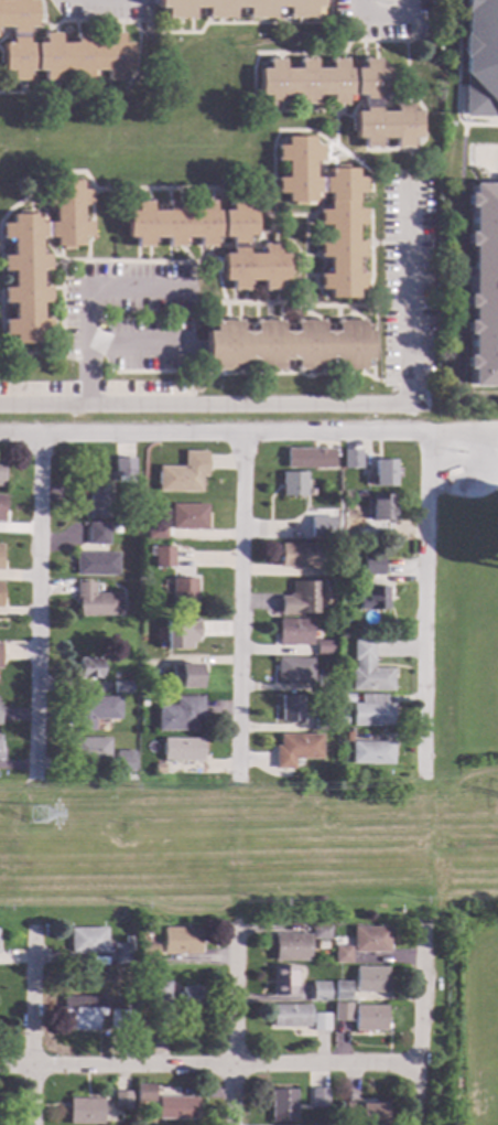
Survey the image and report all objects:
building: (240, 8)
road: (383, 17)
road: (249, 22)
road: (77, 26)
road: (89, 26)
road: (57, 28)
road: (35, 29)
road: (350, 29)
road: (4, 35)
road: (348, 41)
building: (57, 50)
building: (480, 58)
road: (456, 63)
road: (137, 69)
road: (393, 93)
building: (344, 96)
road: (409, 96)
road: (393, 98)
road: (355, 106)
road: (480, 124)
road: (305, 129)
road: (333, 146)
road: (339, 157)
road: (487, 157)
road: (335, 163)
road: (496, 170)
road: (402, 180)
road: (185, 187)
road: (30, 204)
road: (40, 207)
building: (327, 213)
road: (305, 219)
road: (91, 224)
road: (261, 236)
building: (210, 238)
road: (391, 243)
road: (52, 250)
road: (371, 255)
building: (39, 257)
road: (102, 260)
road: (459, 277)
road: (192, 281)
building: (481, 286)
road: (219, 287)
road: (140, 289)
road: (299, 304)
road: (397, 308)
road: (148, 344)
building: (288, 345)
road: (91, 349)
road: (47, 353)
road: (164, 372)
road: (301, 374)
road: (316, 403)
road: (489, 431)
road: (454, 432)
road: (213, 436)
road: (446, 449)
building: (307, 459)
building: (351, 460)
building: (123, 468)
road: (481, 469)
building: (1, 473)
building: (182, 474)
building: (385, 474)
building: (292, 484)
building: (98, 501)
building: (1, 507)
building: (381, 508)
building: (187, 517)
building: (354, 522)
building: (322, 526)
building: (155, 533)
building: (98, 535)
building: (300, 556)
building: (0, 557)
building: (163, 557)
building: (97, 565)
building: (342, 565)
building: (372, 565)
building: (332, 572)
building: (183, 594)
building: (0, 596)
building: (299, 599)
building: (373, 599)
building: (96, 602)
road: (424, 603)
road: (241, 607)
road: (42, 608)
building: (295, 632)
building: (178, 635)
building: (325, 647)
building: (0, 649)
building: (362, 651)
building: (90, 668)
building: (294, 671)
building: (185, 676)
building: (371, 681)
building: (325, 684)
building: (144, 687)
building: (121, 688)
building: (347, 698)
building: (291, 708)
building: (95, 711)
building: (370, 712)
building: (180, 715)
building: (323, 725)
building: (182, 750)
building: (296, 750)
building: (91, 751)
building: (370, 752)
building: (126, 765)
building: (159, 769)
power tower: (39, 821)
road: (249, 842)
building: (321, 933)
building: (128, 940)
building: (87, 941)
building: (181, 941)
building: (369, 941)
building: (320, 946)
building: (291, 947)
building: (122, 954)
building: (148, 954)
building: (340, 955)
building: (2, 978)
building: (370, 981)
building: (283, 982)
building: (109, 988)
building: (160, 992)
building: (320, 992)
building: (340, 992)
building: (191, 999)
park: (495, 1004)
building: (340, 1011)
building: (82, 1013)
building: (291, 1017)
building: (120, 1019)
building: (369, 1019)
building: (321, 1022)
road: (418, 1026)
road: (32, 1028)
road: (231, 1028)
road: (208, 1067)
building: (143, 1093)
building: (318, 1099)
building: (121, 1101)
building: (282, 1106)
building: (175, 1108)
building: (85, 1112)
building: (364, 1114)

